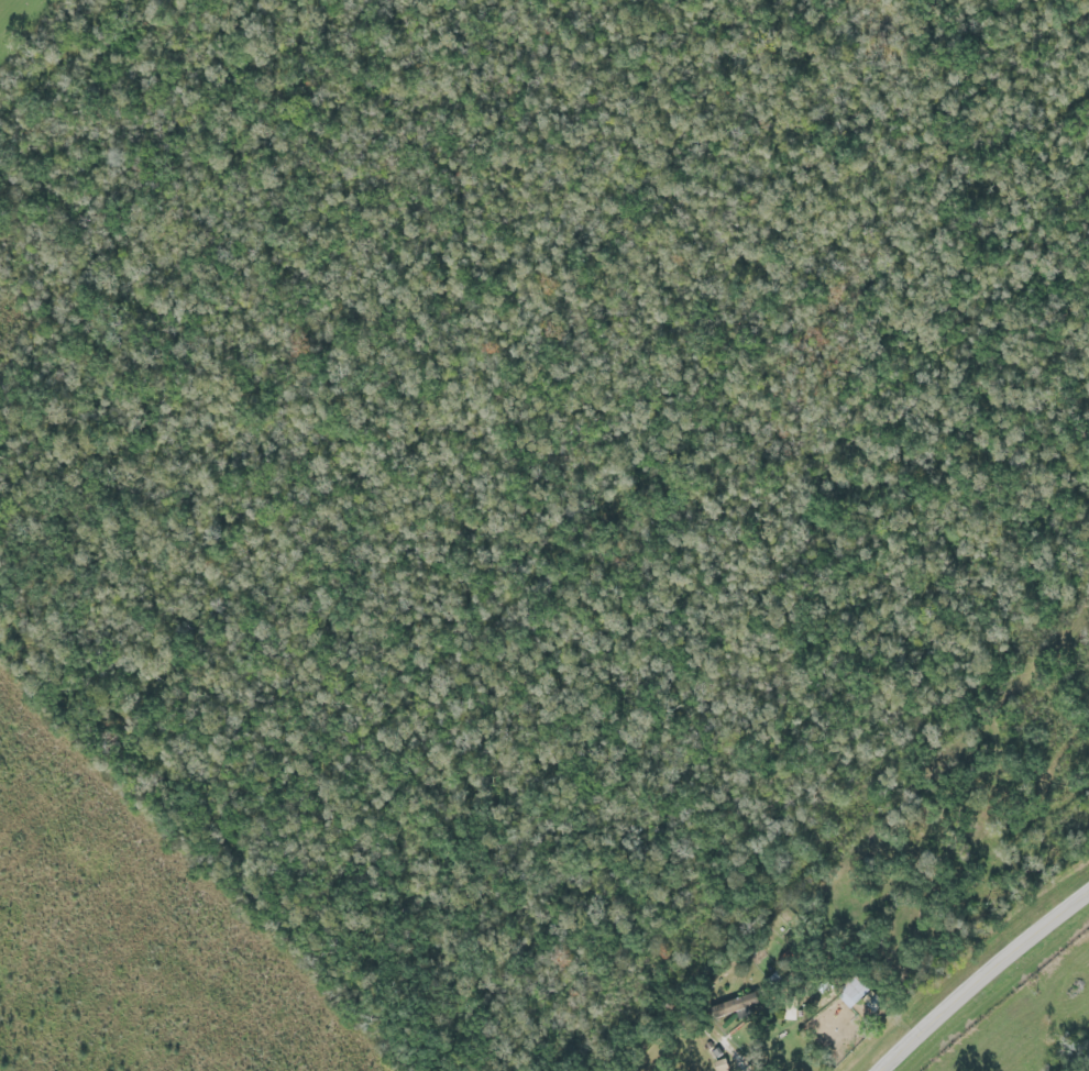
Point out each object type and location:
road: (982, 980)
building: (776, 981)
building: (850, 992)
building: (730, 1006)
road: (744, 1068)

